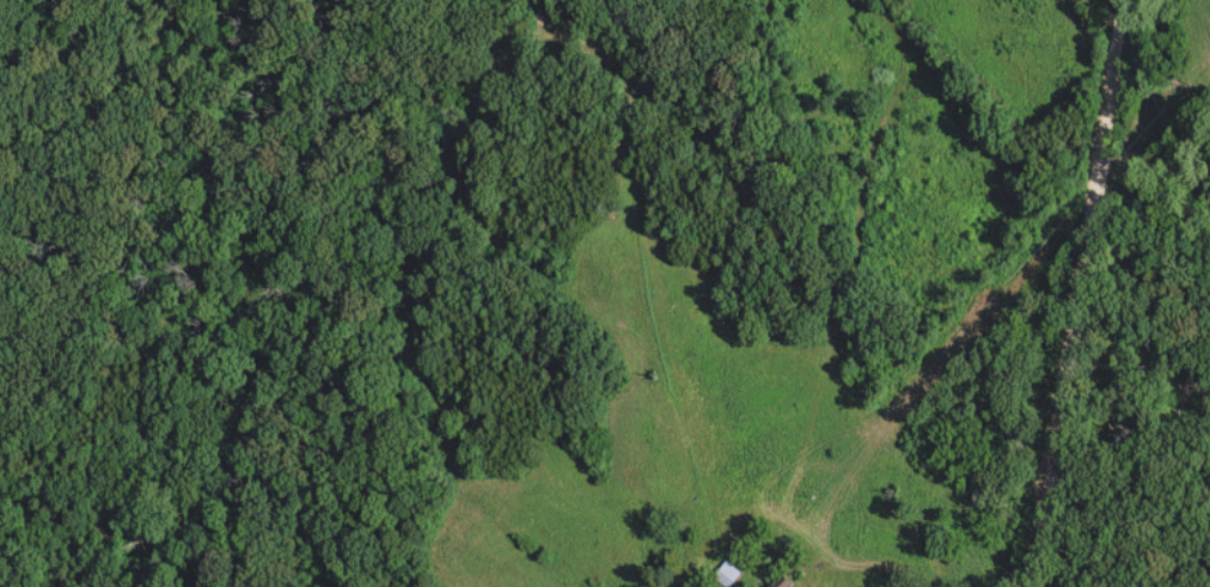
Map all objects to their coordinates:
road: (1088, 294)
building: (727, 576)

